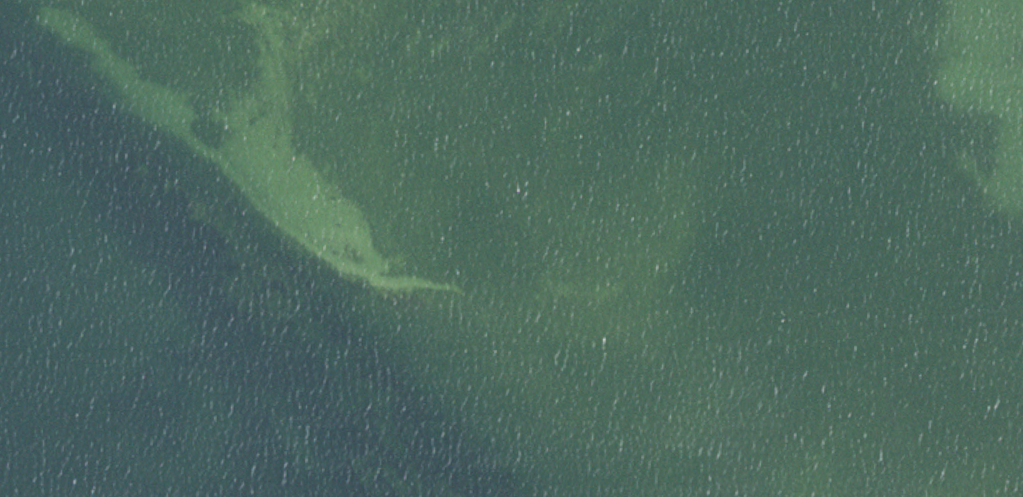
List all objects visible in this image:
river: (201, 365)

